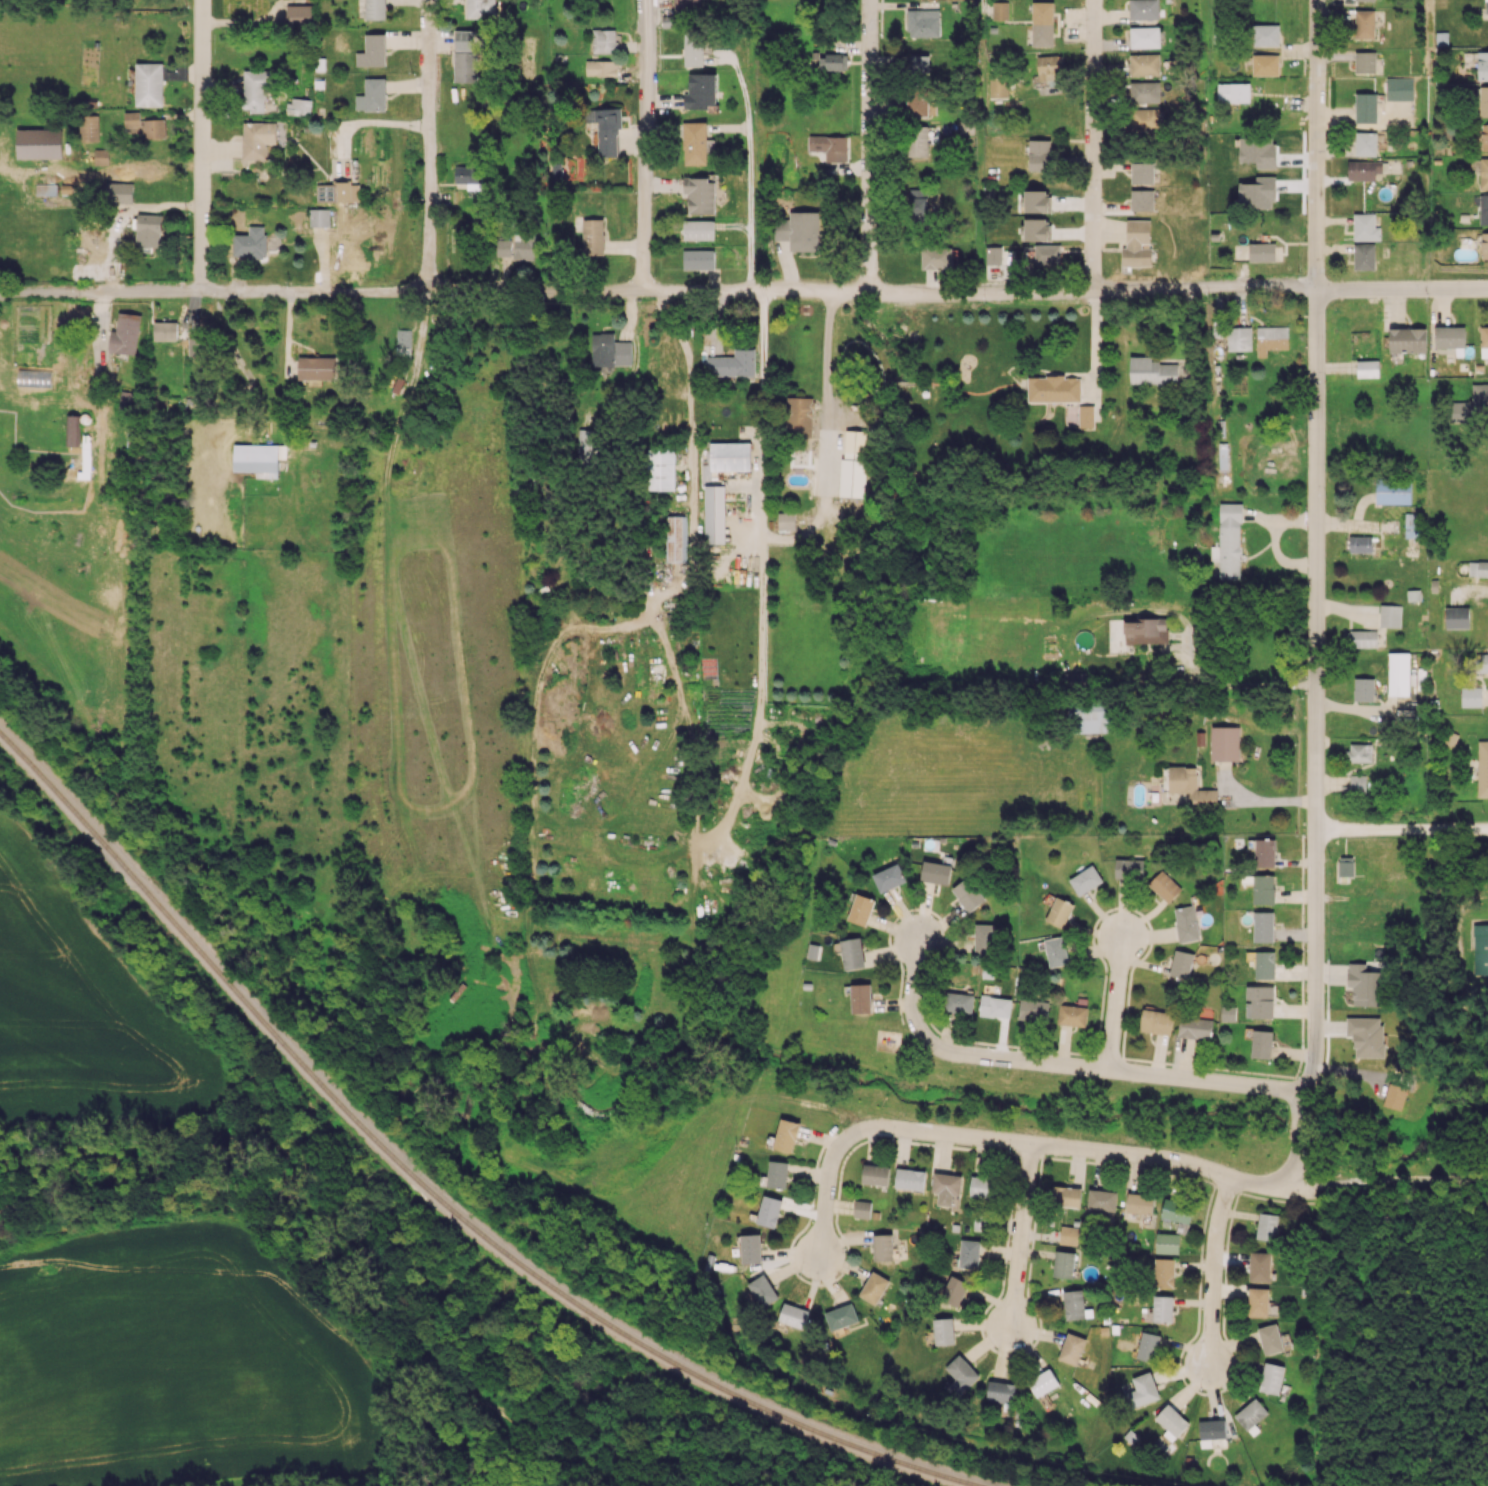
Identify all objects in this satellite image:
building: (1370, 0)
building: (686, 5)
building: (1486, 7)
building: (481, 8)
building: (375, 9)
building: (1143, 9)
building: (1000, 10)
building: (299, 13)
building: (923, 23)
building: (1042, 23)
building: (1364, 24)
building: (1264, 35)
building: (1144, 37)
building: (465, 40)
building: (604, 40)
building: (693, 49)
building: (372, 51)
building: (829, 61)
building: (1365, 61)
building: (919, 64)
building: (1144, 64)
building: (1265, 65)
building: (1482, 65)
building: (465, 66)
building: (1049, 67)
building: (601, 68)
building: (149, 84)
building: (998, 84)
building: (1399, 88)
building: (255, 89)
building: (701, 91)
building: (1145, 92)
building: (1233, 92)
building: (372, 95)
building: (1484, 101)
building: (920, 103)
building: (298, 107)
building: (1366, 107)
building: (1144, 120)
building: (132, 122)
building: (966, 127)
building: (89, 128)
building: (153, 128)
building: (606, 130)
building: (1485, 137)
building: (257, 139)
building: (916, 141)
building: (39, 143)
building: (696, 143)
building: (1366, 143)
road: (429, 145)
road: (644, 145)
road: (1092, 145)
road: (202, 146)
building: (829, 146)
road: (868, 147)
building: (101, 155)
building: (1039, 155)
building: (1363, 169)
road: (90, 171)
building: (1141, 172)
building: (1484, 173)
building: (469, 178)
road: (749, 179)
building: (46, 189)
building: (119, 192)
building: (337, 192)
building: (700, 195)
building: (1142, 199)
building: (1037, 201)
building: (917, 205)
building: (1483, 209)
building: (319, 217)
building: (797, 227)
building: (1365, 227)
building: (1037, 229)
building: (148, 230)
building: (698, 230)
building: (592, 236)
building: (1137, 241)
building: (250, 243)
building: (1484, 245)
building: (523, 246)
building: (502, 247)
building: (1262, 252)
building: (1047, 254)
building: (993, 255)
building: (1363, 256)
building: (937, 257)
building: (698, 259)
road: (744, 291)
building: (159, 333)
building: (125, 334)
building: (1239, 338)
building: (1450, 338)
building: (1271, 339)
building: (1407, 340)
building: (1484, 341)
road: (1095, 345)
building: (610, 350)
road: (762, 355)
building: (733, 363)
building: (317, 368)
building: (1367, 368)
building: (1151, 371)
road: (689, 380)
building: (1054, 388)
building: (1479, 394)
building: (125, 401)
building: (1457, 411)
building: (799, 416)
building: (1086, 416)
building: (74, 430)
building: (587, 447)
building: (730, 456)
building: (256, 459)
building: (853, 463)
building: (660, 468)
building: (1393, 490)
road: (821, 494)
building: (714, 514)
building: (786, 521)
building: (1412, 525)
building: (676, 538)
building: (1229, 543)
building: (1360, 543)
building: (1478, 568)
road: (1316, 592)
building: (1390, 615)
building: (1457, 617)
building: (1145, 630)
building: (1363, 638)
building: (1481, 662)
building: (1398, 674)
building: (1074, 679)
road: (1235, 683)
building: (1363, 689)
building: (1471, 696)
building: (1089, 717)
building: (1225, 743)
building: (1359, 752)
building: (1482, 768)
building: (1357, 783)
building: (1189, 784)
road: (1258, 800)
road: (1401, 828)
building: (1265, 852)
building: (1346, 866)
building: (1129, 868)
building: (935, 872)
building: (888, 877)
building: (1085, 880)
building: (1164, 886)
building: (1263, 889)
building: (968, 894)
building: (861, 909)
building: (1059, 912)
building: (1186, 923)
building: (1263, 926)
building: (985, 937)
building: (1480, 948)
building: (1056, 951)
building: (852, 953)
building: (1181, 964)
building: (1265, 964)
building: (1364, 985)
road: (912, 996)
building: (860, 998)
building: (1259, 1001)
building: (958, 1003)
road: (1114, 1003)
building: (995, 1006)
building: (1033, 1010)
building: (1228, 1013)
building: (1072, 1015)
building: (1156, 1021)
building: (1195, 1027)
building: (1367, 1035)
building: (1261, 1044)
road: (1119, 1070)
building: (1394, 1096)
park: (815, 1102)
building: (786, 1135)
road: (1188, 1164)
road: (828, 1172)
building: (777, 1174)
building: (875, 1174)
building: (910, 1179)
building: (983, 1186)
building: (946, 1187)
railway: (429, 1190)
building: (1066, 1196)
building: (1101, 1199)
building: (1139, 1203)
building: (861, 1209)
building: (1176, 1210)
building: (769, 1211)
building: (1267, 1226)
building: (1068, 1235)
road: (1020, 1236)
building: (1167, 1243)
building: (882, 1247)
building: (751, 1248)
building: (969, 1254)
building: (1063, 1264)
building: (1259, 1266)
road: (1213, 1271)
building: (1164, 1273)
building: (874, 1287)
building: (763, 1290)
building: (954, 1291)
building: (1258, 1301)
building: (1073, 1304)
building: (1162, 1309)
building: (793, 1315)
building: (841, 1316)
building: (943, 1331)
building: (1270, 1339)
building: (1148, 1346)
building: (1071, 1348)
building: (961, 1373)
building: (1271, 1378)
building: (1043, 1382)
building: (1142, 1390)
building: (1000, 1391)
building: (1250, 1414)
building: (1171, 1422)
building: (1212, 1433)

